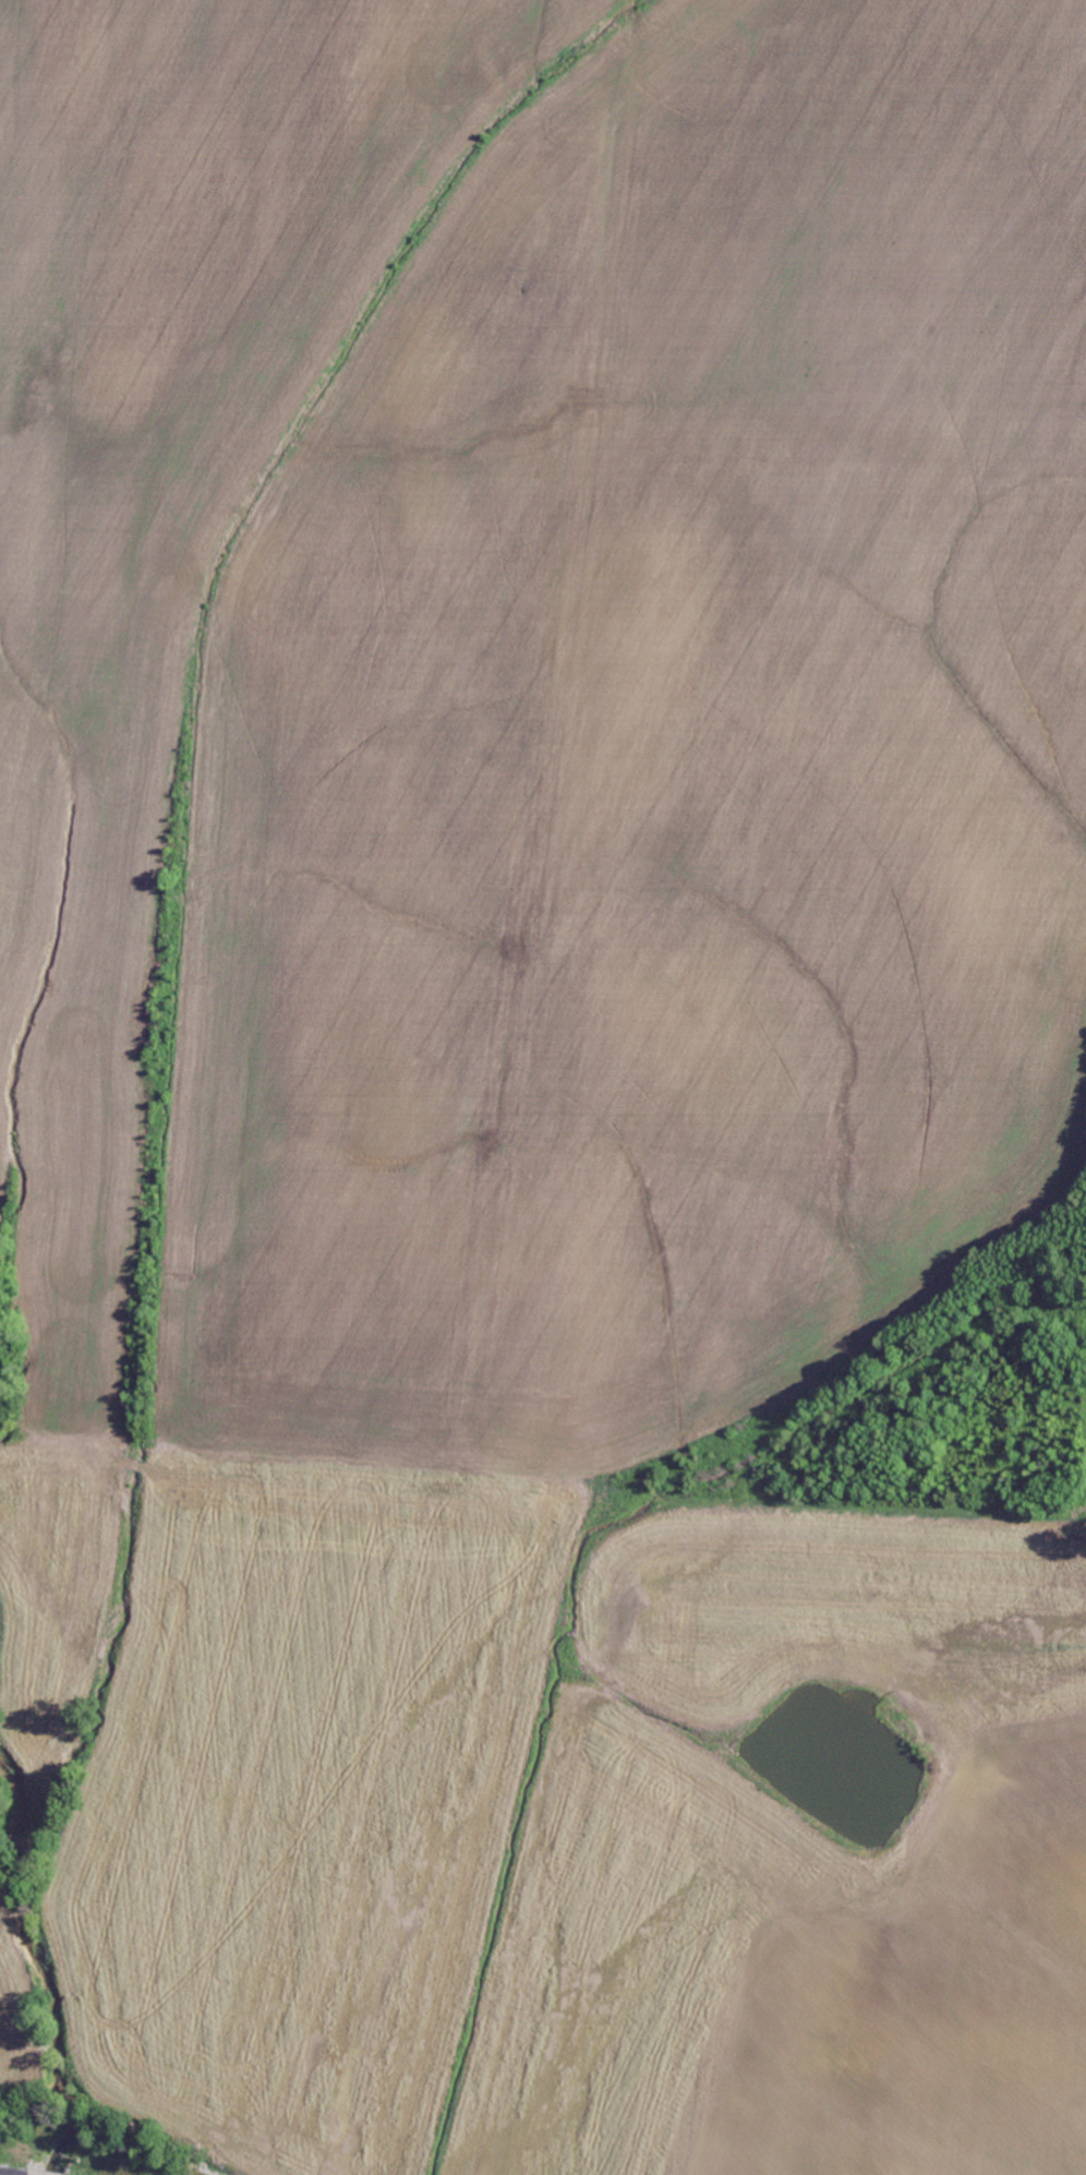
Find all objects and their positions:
road: (8, 2173)

